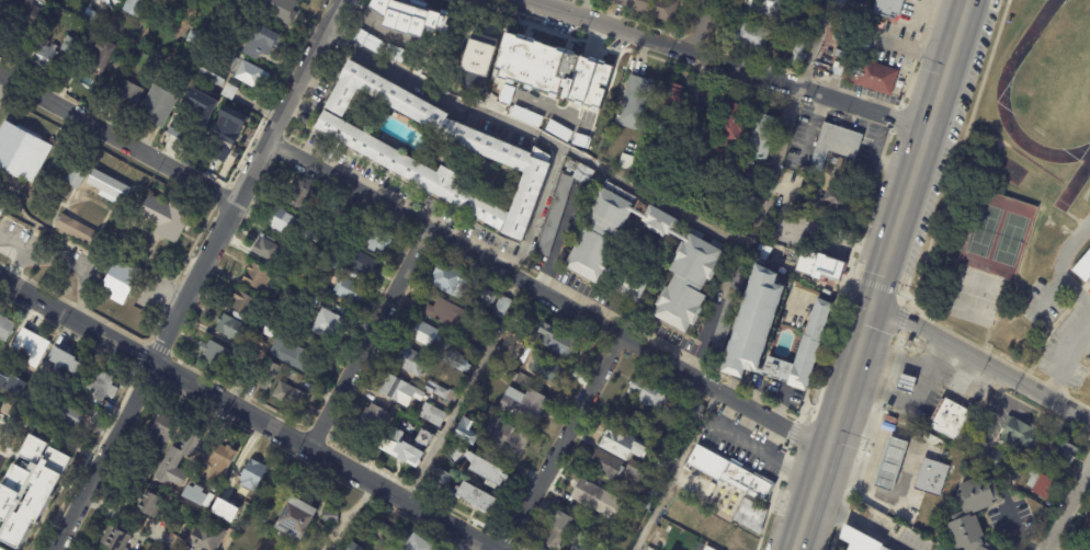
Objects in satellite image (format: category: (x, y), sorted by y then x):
building: (303, 0)
building: (98, 1)
building: (135, 5)
road: (969, 5)
road: (582, 8)
building: (650, 8)
building: (889, 8)
building: (762, 9)
building: (277, 10)
building: (23, 16)
building: (230, 19)
building: (436, 22)
road: (700, 25)
building: (787, 27)
building: (803, 30)
building: (112, 31)
building: (750, 36)
building: (194, 39)
building: (262, 44)
building: (67, 46)
building: (381, 47)
building: (95, 51)
building: (124, 53)
building: (798, 55)
building: (839, 55)
building: (42, 56)
road: (729, 64)
building: (837, 67)
building: (476, 68)
building: (216, 69)
building: (553, 71)
road: (0, 76)
building: (250, 76)
building: (868, 76)
building: (126, 99)
building: (712, 102)
building: (671, 103)
building: (636, 104)
track: (1002, 105)
building: (156, 107)
building: (191, 113)
building: (524, 116)
building: (224, 118)
building: (731, 124)
building: (566, 135)
building: (761, 138)
road: (116, 139)
building: (836, 146)
building: (433, 149)
building: (22, 151)
building: (626, 163)
building: (852, 171)
building: (75, 179)
road: (246, 179)
building: (109, 185)
building: (298, 196)
road: (652, 197)
building: (839, 206)
building: (609, 209)
building: (1, 210)
road: (537, 214)
building: (563, 214)
building: (809, 216)
building: (164, 219)
building: (726, 219)
building: (658, 220)
building: (288, 226)
building: (79, 233)
park: (994, 237)
building: (378, 239)
building: (271, 248)
building: (589, 254)
building: (694, 256)
road: (63, 260)
building: (363, 264)
building: (1082, 265)
building: (340, 266)
building: (819, 268)
railway: (896, 274)
building: (259, 278)
building: (451, 280)
road: (881, 280)
building: (623, 283)
building: (120, 284)
building: (318, 289)
building: (349, 290)
road: (545, 294)
road: (1047, 296)
building: (487, 298)
traffic signals: (876, 299)
building: (242, 302)
road: (1087, 305)
building: (500, 306)
building: (679, 306)
building: (727, 310)
building: (446, 313)
building: (520, 314)
building: (752, 321)
building: (481, 323)
building: (328, 324)
building: (4, 328)
building: (230, 328)
building: (271, 328)
parking lot: (1059, 332)
building: (427, 334)
building: (462, 334)
road: (367, 340)
building: (557, 340)
building: (809, 342)
building: (30, 346)
building: (291, 353)
building: (475, 353)
building: (214, 354)
building: (258, 356)
building: (496, 357)
building: (63, 360)
building: (409, 360)
road: (983, 360)
building: (455, 362)
building: (546, 369)
building: (219, 373)
building: (509, 375)
building: (266, 376)
building: (100, 383)
building: (907, 383)
building: (11, 388)
building: (397, 389)
building: (646, 391)
road: (464, 392)
building: (445, 394)
building: (288, 396)
building: (525, 406)
building: (693, 408)
road: (239, 411)
building: (432, 414)
building: (69, 415)
building: (686, 419)
building: (952, 420)
building: (371, 423)
building: (162, 426)
building: (462, 434)
building: (504, 437)
building: (423, 439)
road: (563, 442)
building: (620, 445)
building: (399, 447)
building: (1014, 447)
building: (675, 452)
building: (1060, 452)
road: (102, 455)
building: (220, 457)
building: (175, 461)
building: (706, 462)
building: (605, 465)
building: (892, 465)
building: (478, 466)
building: (139, 469)
road: (671, 469)
building: (636, 471)
building: (198, 474)
building: (246, 477)
building: (931, 478)
building: (442, 479)
building: (749, 482)
building: (1009, 482)
building: (1042, 485)
building: (27, 491)
building: (197, 494)
building: (978, 494)
building: (589, 495)
building: (628, 495)
building: (476, 496)
building: (648, 503)
building: (679, 503)
building: (149, 504)
building: (875, 504)
road: (1069, 507)
building: (224, 509)
building: (605, 513)
building: (751, 515)
building: (330, 517)
building: (674, 517)
road: (126, 518)
building: (294, 519)
road: (860, 522)
building: (1088, 524)
building: (559, 530)
building: (594, 530)
building: (631, 530)
building: (382, 531)
building: (722, 535)
building: (968, 535)
building: (205, 537)
building: (668, 538)
building: (114, 539)
building: (858, 540)
building: (580, 542)
building: (417, 543)
road: (476, 546)
road: (487, 546)
building: (352, 547)
building: (705, 549)
building: (709, 549)

